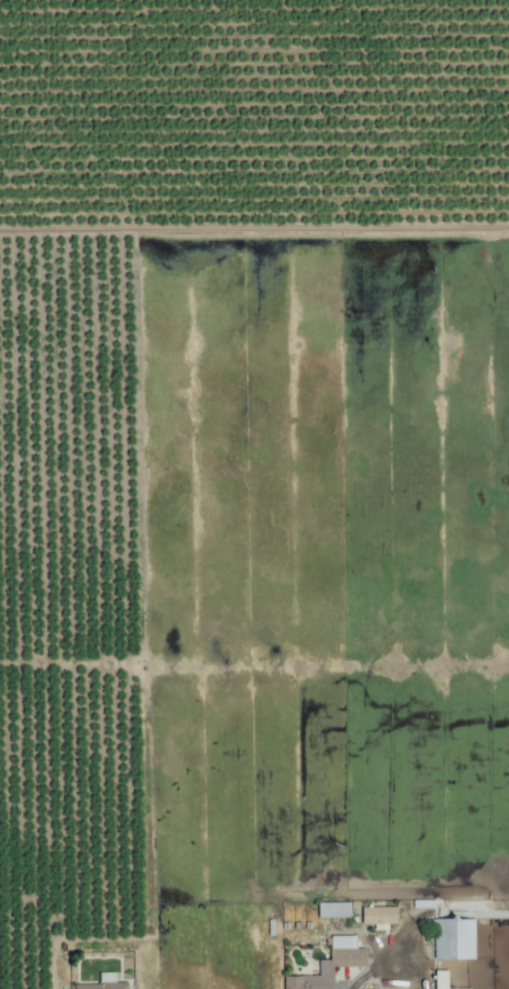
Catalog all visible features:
building: (335, 912)
building: (380, 917)
building: (454, 940)
building: (333, 965)
road: (376, 971)
building: (443, 980)
building: (106, 984)

